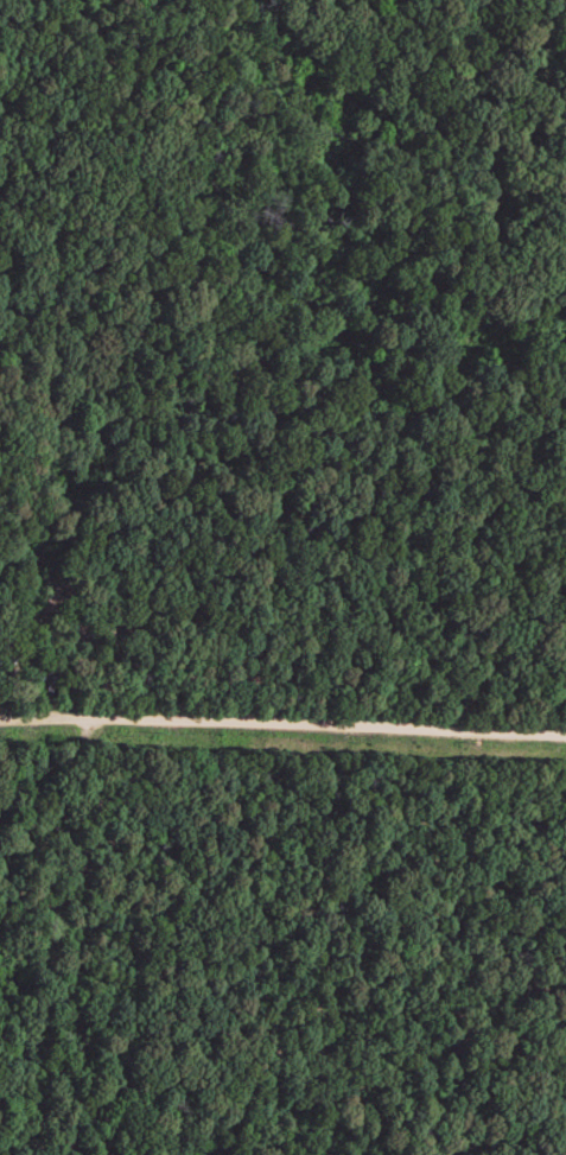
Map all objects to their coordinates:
road: (282, 724)

